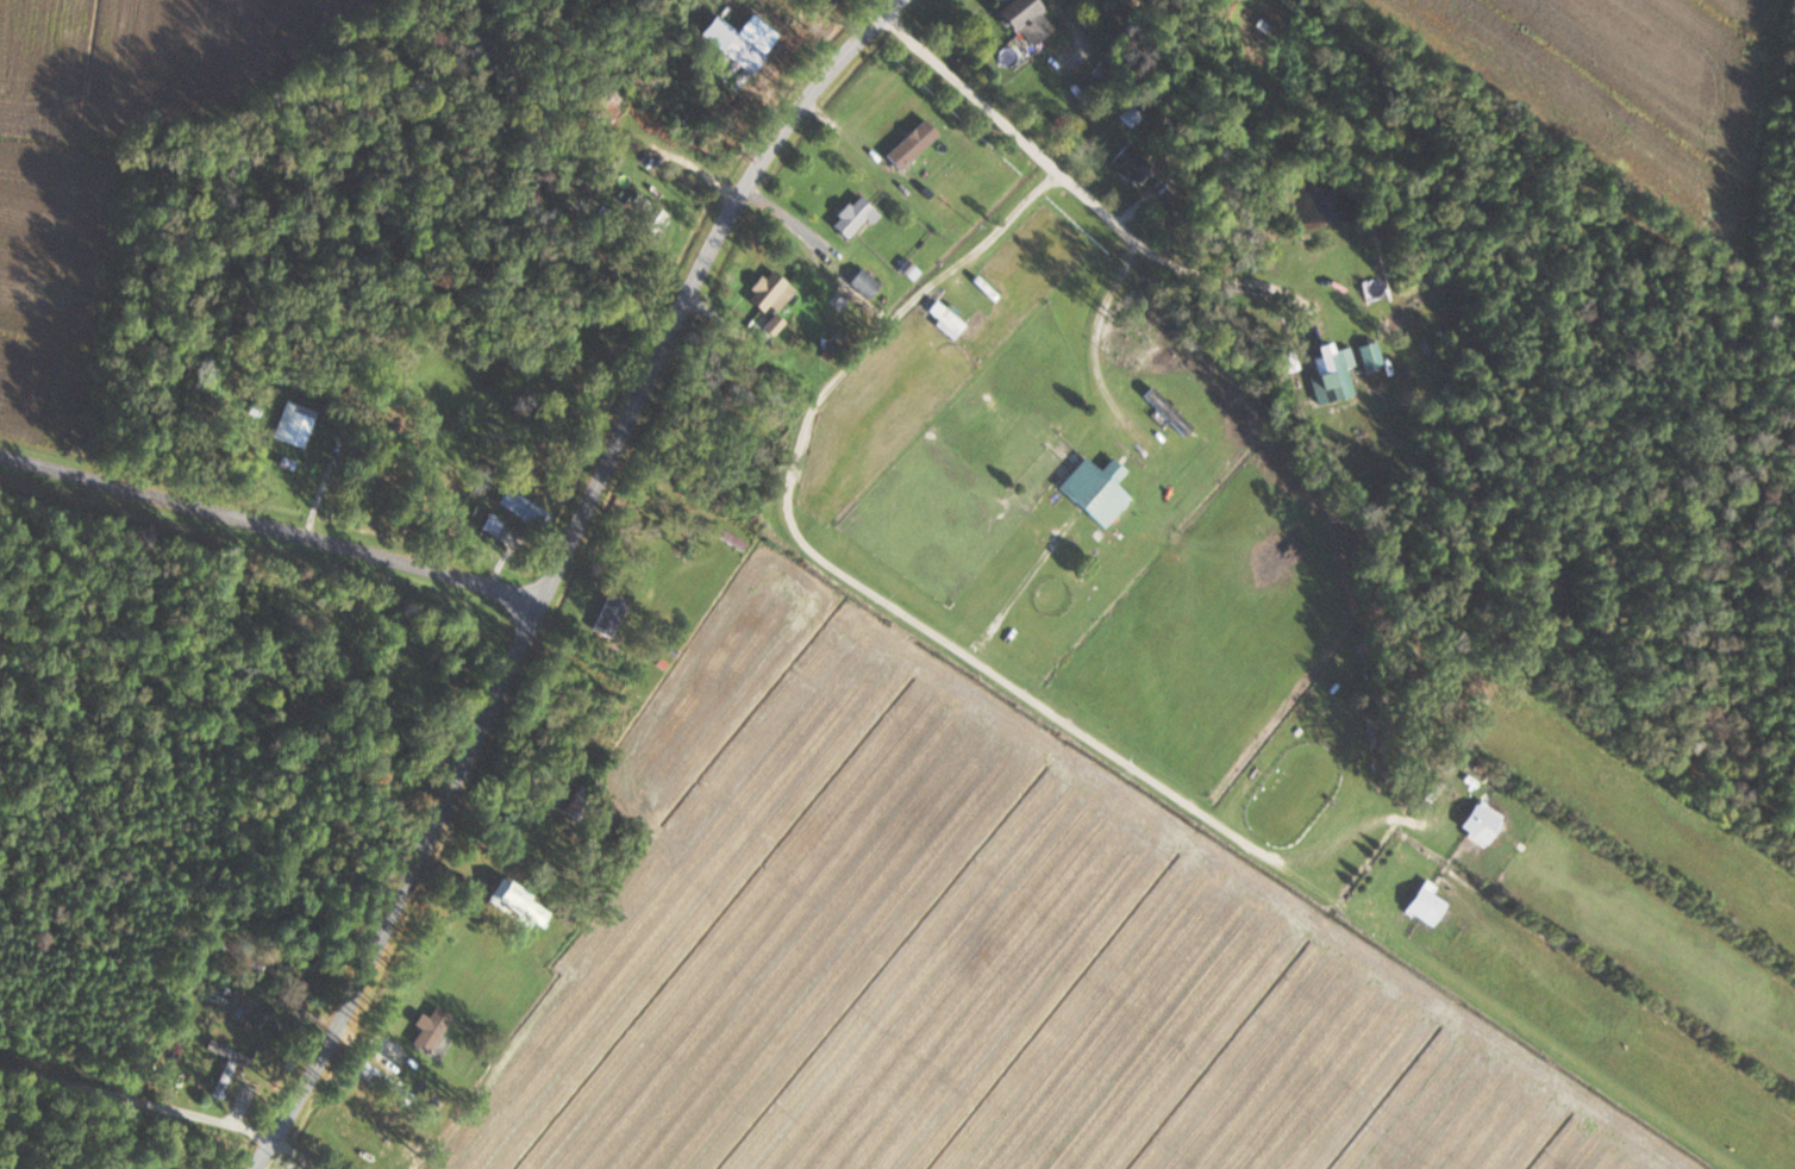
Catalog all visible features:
building: (730, 6)
building: (1021, 19)
building: (734, 49)
building: (607, 101)
road: (1015, 135)
building: (908, 144)
building: (1130, 163)
building: (644, 213)
building: (850, 217)
road: (1234, 273)
building: (862, 282)
building: (768, 292)
building: (944, 313)
road: (1090, 339)
building: (1368, 354)
building: (1284, 362)
building: (1331, 371)
building: (292, 423)
building: (1093, 489)
building: (519, 506)
road: (269, 527)
road: (551, 570)
road: (903, 612)
building: (576, 805)
building: (1478, 824)
building: (517, 905)
building: (429, 1024)
building: (223, 1065)
building: (381, 1083)
road: (133, 1098)

